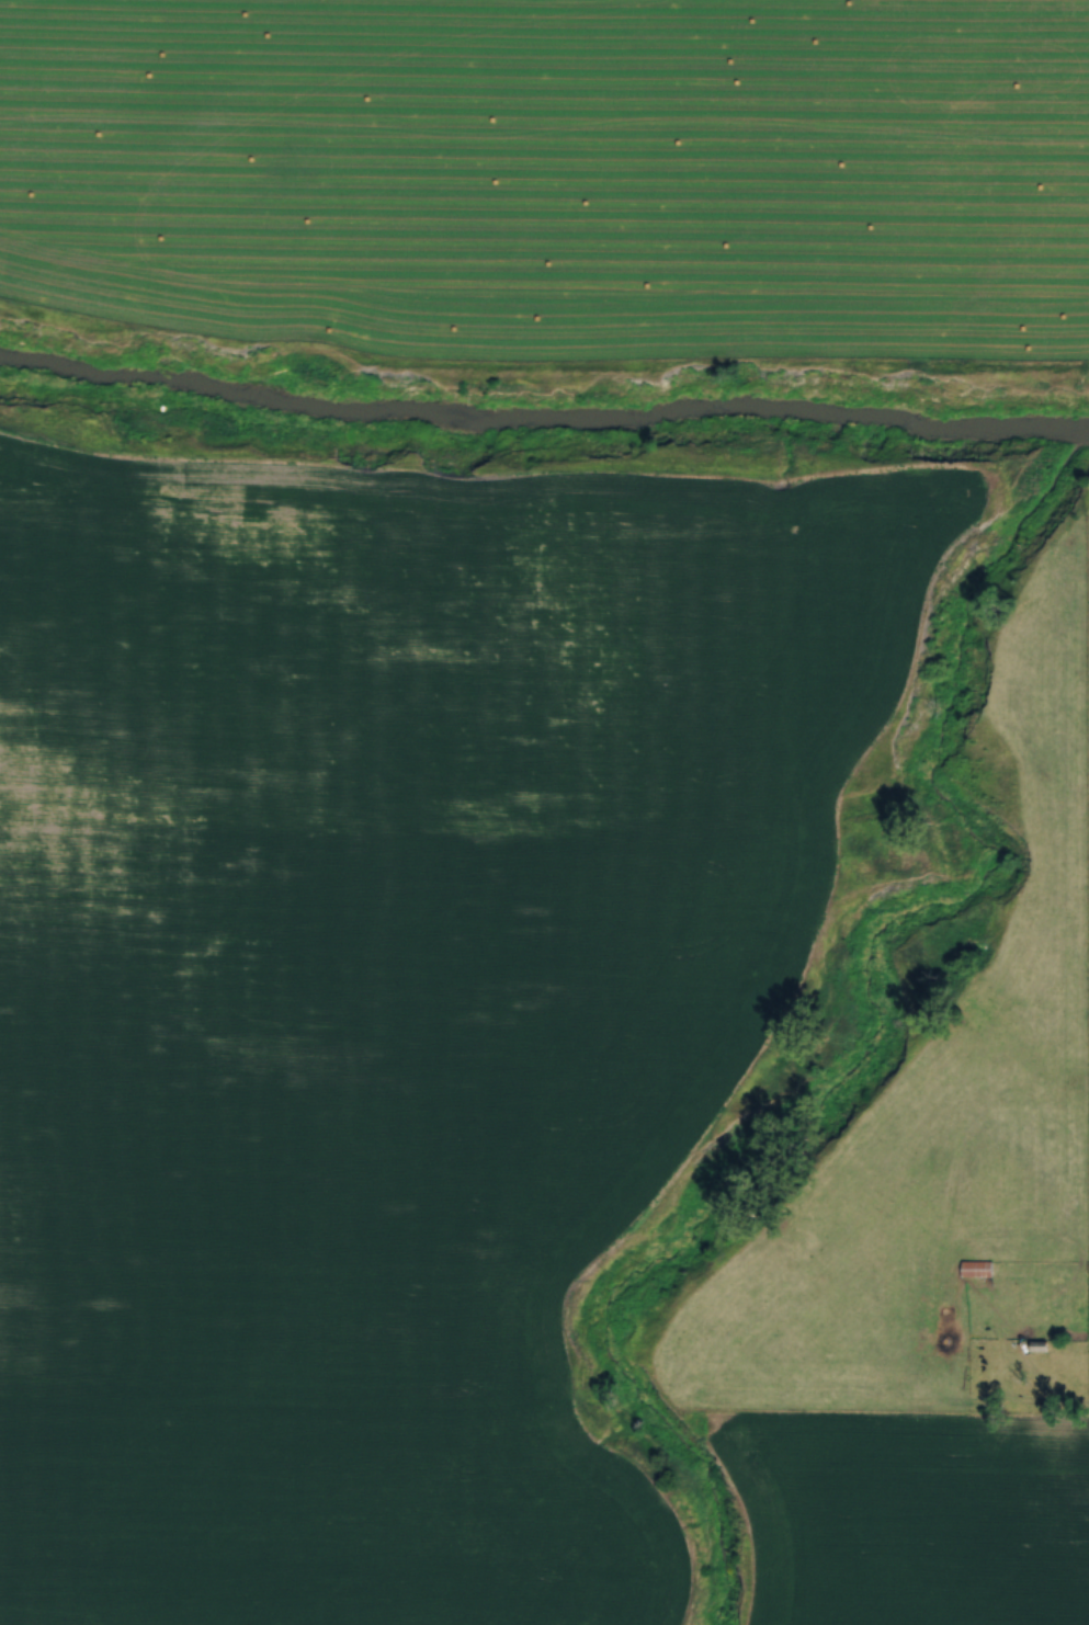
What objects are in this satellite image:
river: (542, 422)
river: (881, 1047)
building: (979, 1265)
building: (1042, 1345)

